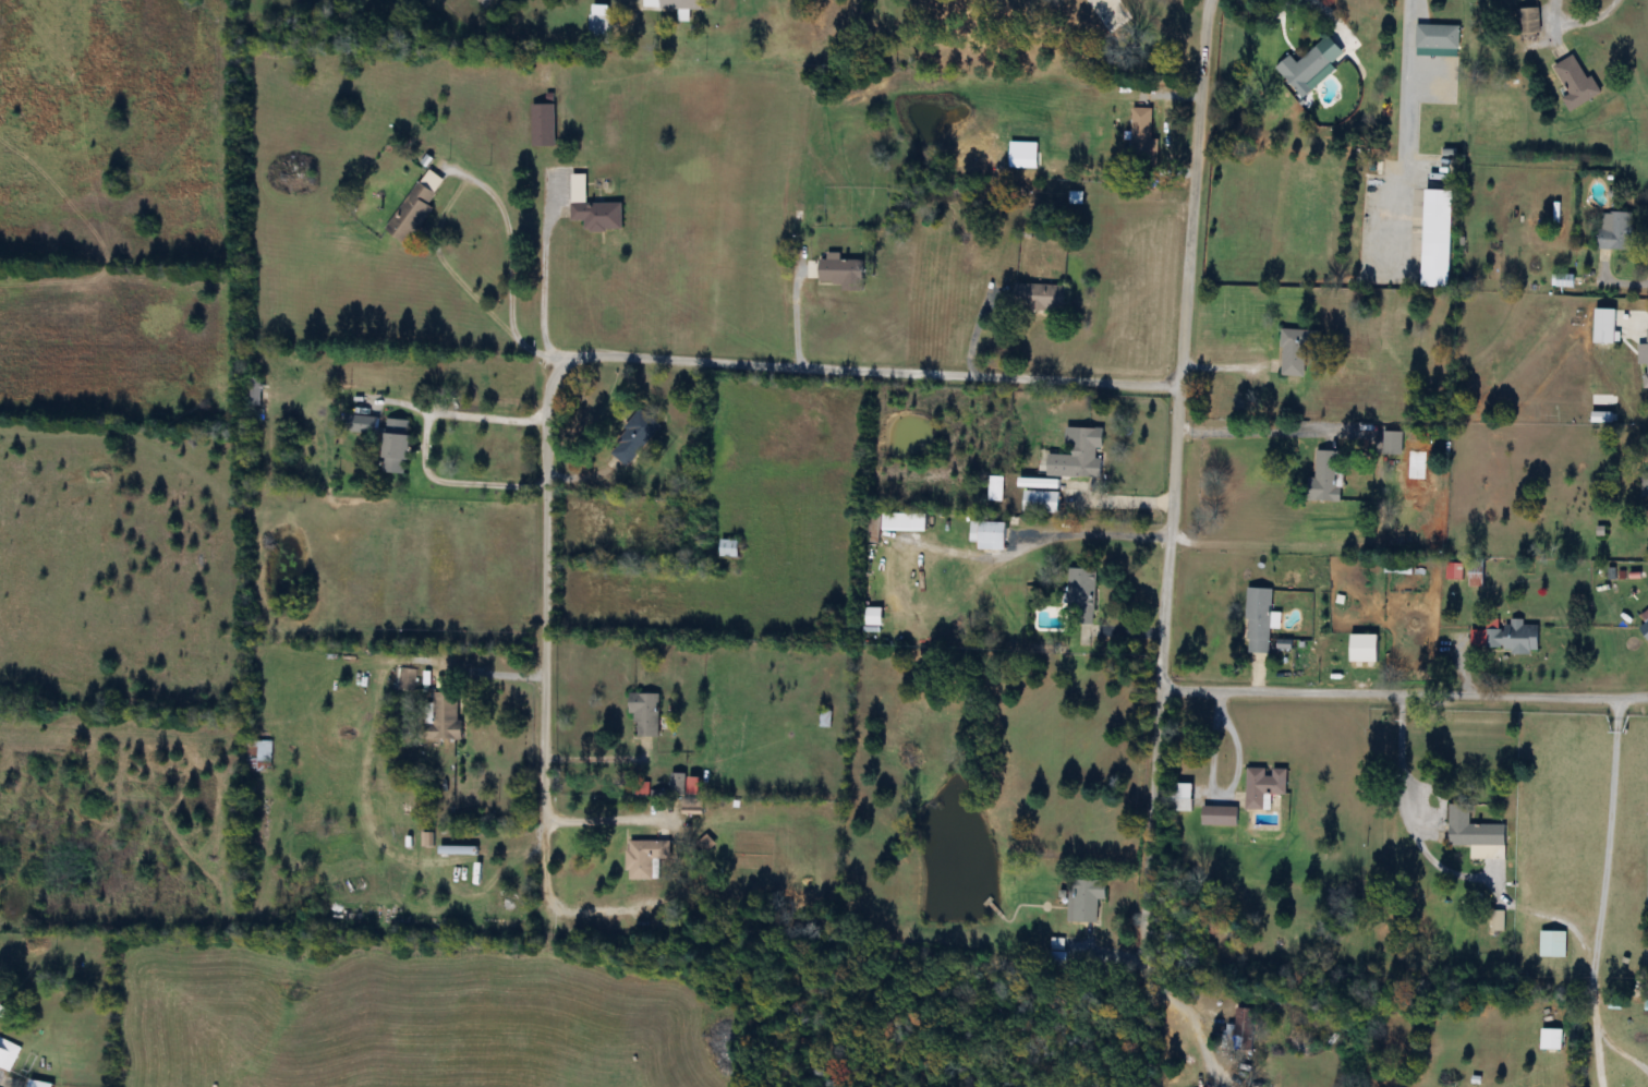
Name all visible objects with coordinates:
building: (671, 4)
building: (1107, 13)
building: (599, 24)
building: (1527, 24)
building: (1437, 38)
building: (1306, 67)
building: (545, 76)
building: (1575, 84)
building: (543, 126)
building: (1142, 141)
road: (444, 200)
building: (415, 207)
building: (593, 209)
building: (1614, 231)
building: (1437, 240)
road: (543, 264)
building: (839, 273)
building: (1039, 298)
road: (555, 353)
building: (1294, 353)
road: (592, 354)
building: (1644, 358)
road: (1243, 424)
building: (363, 425)
building: (634, 438)
building: (1392, 444)
building: (396, 447)
road: (424, 447)
building: (1078, 455)
building: (1324, 478)
building: (995, 490)
building: (1647, 495)
building: (1041, 503)
building: (892, 526)
building: (987, 535)
road: (1049, 538)
road: (1168, 543)
building: (728, 549)
building: (1476, 575)
building: (1080, 597)
building: (873, 617)
building: (1258, 621)
building: (1644, 629)
building: (1512, 639)
building: (1362, 650)
building: (401, 680)
road: (1405, 692)
building: (644, 714)
building: (444, 720)
road: (1399, 751)
building: (263, 757)
building: (684, 785)
building: (1263, 787)
building: (1182, 798)
building: (692, 807)
building: (1219, 817)
road: (611, 821)
building: (1471, 830)
building: (706, 843)
building: (644, 858)
road: (1604, 890)
building: (1086, 899)
building: (651, 922)
building: (1552, 945)
building: (1243, 1035)
building: (1551, 1039)
road: (1404, 1077)
building: (37, 1085)

